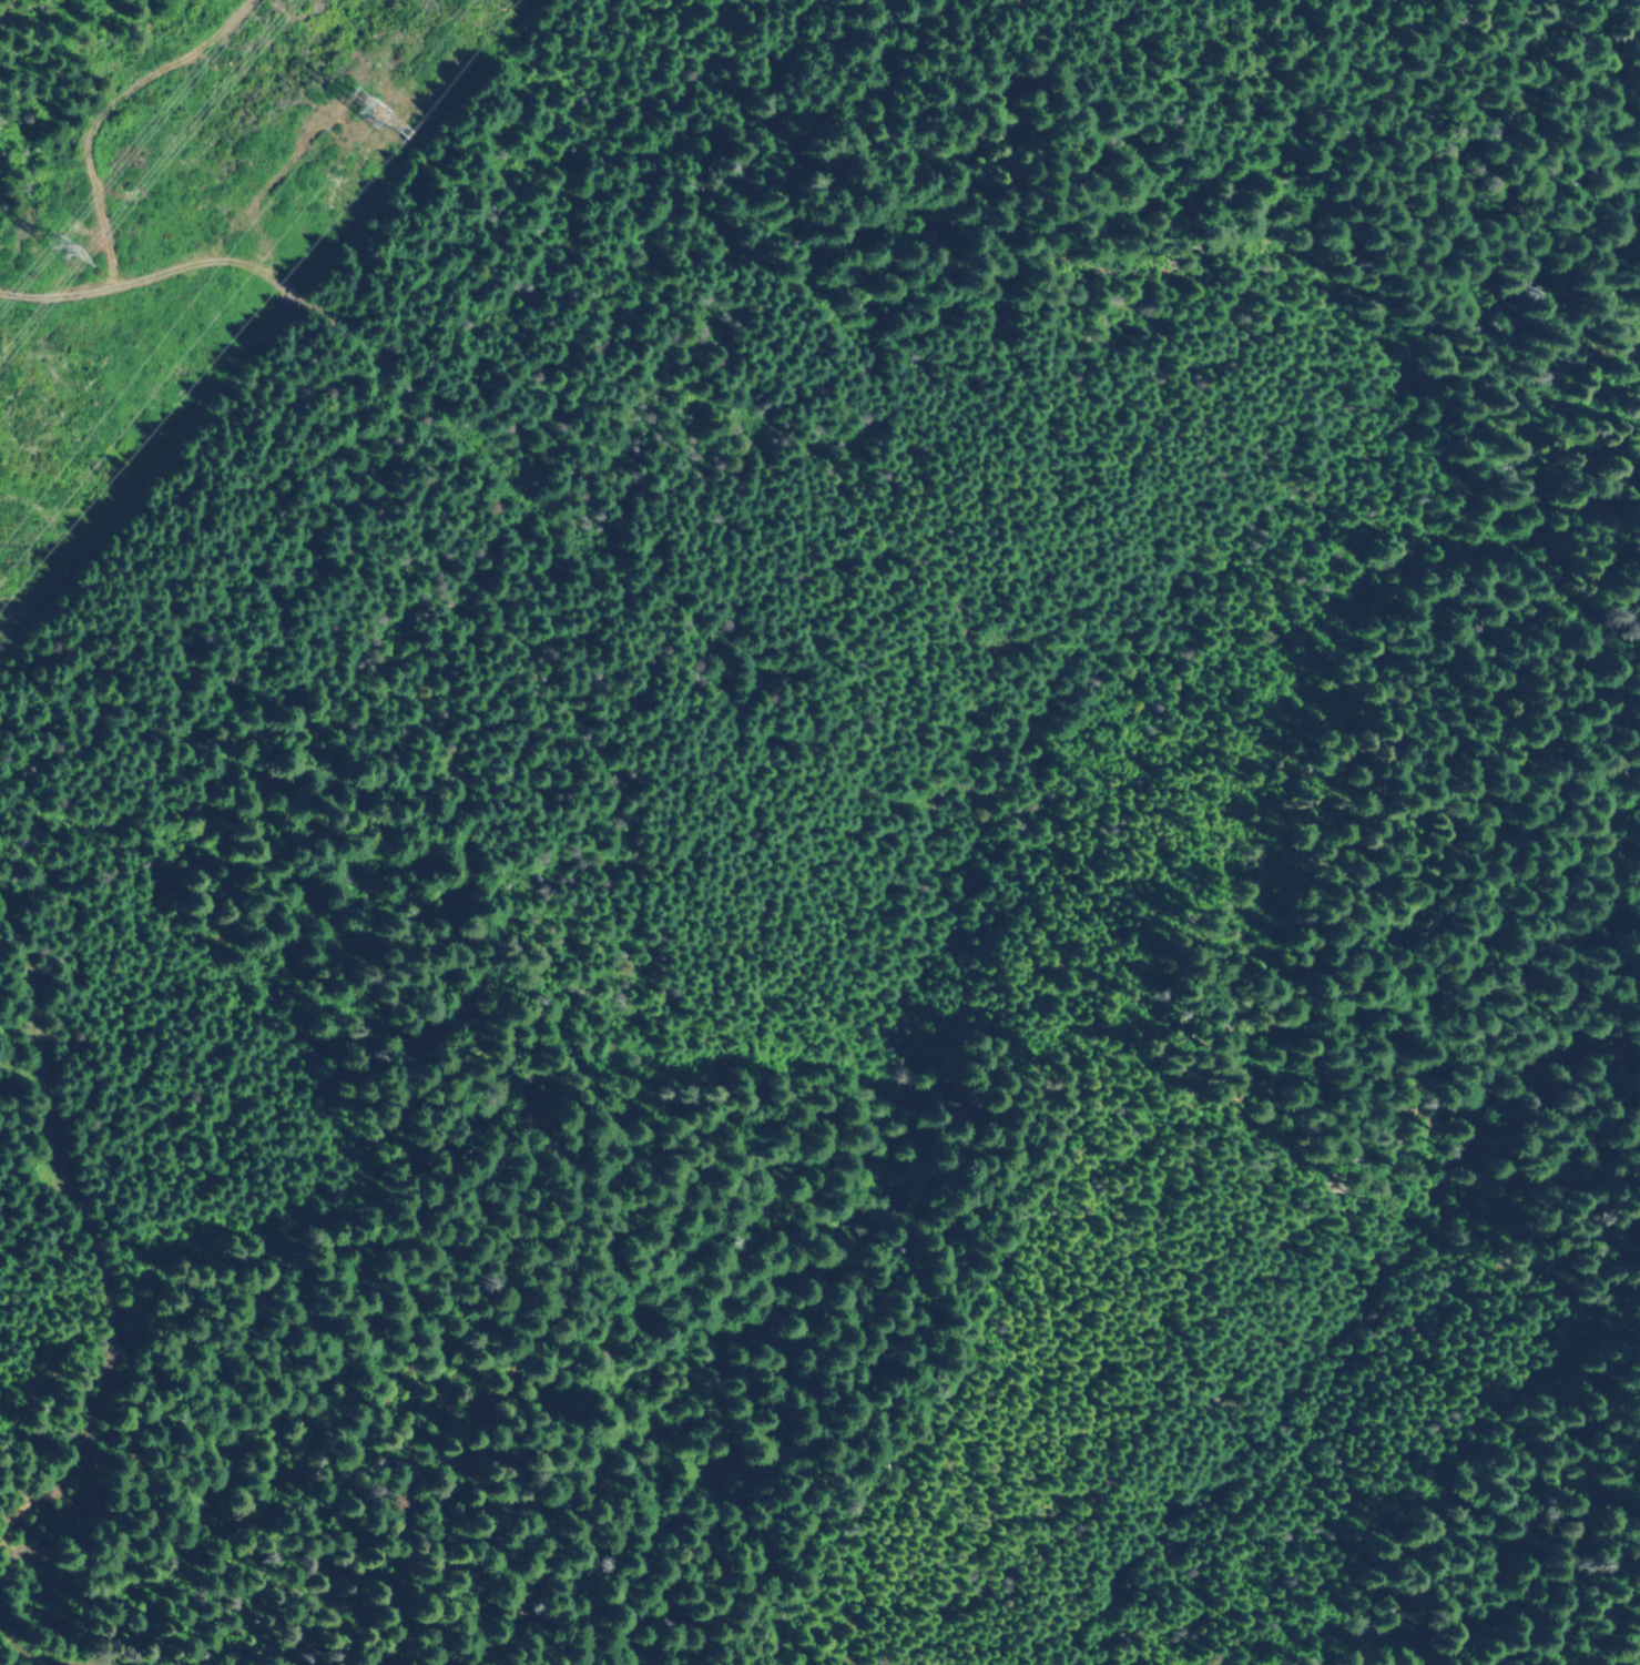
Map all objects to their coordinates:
power tower: (364, 125)
power tower: (62, 257)

